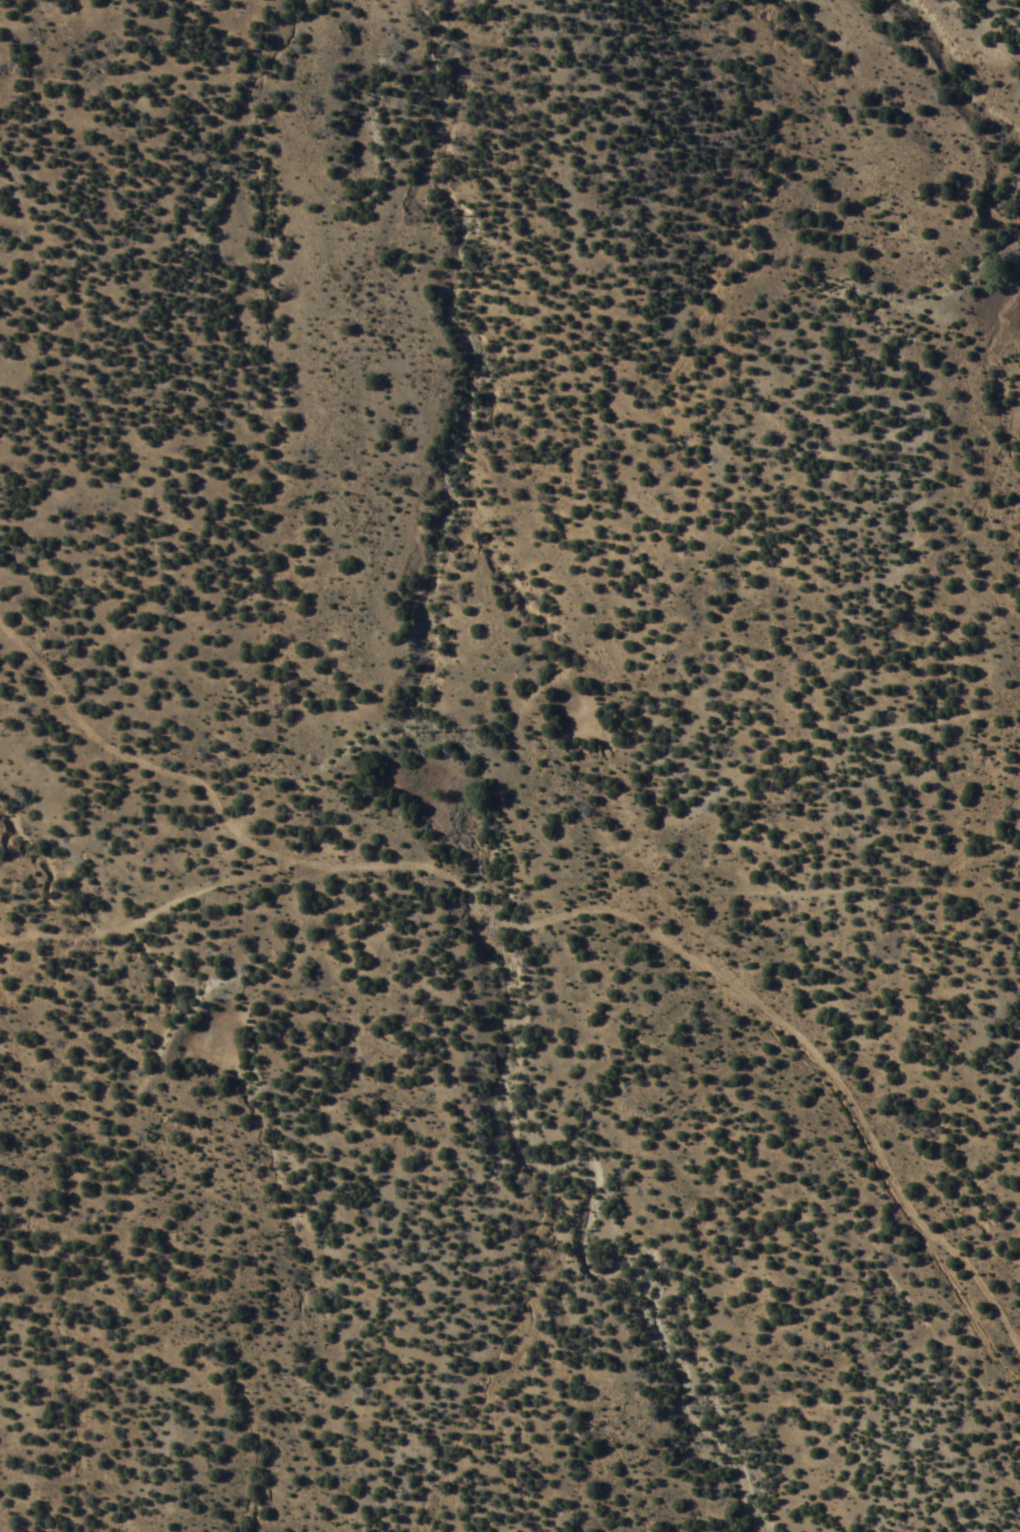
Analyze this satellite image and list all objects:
road: (542, 921)

